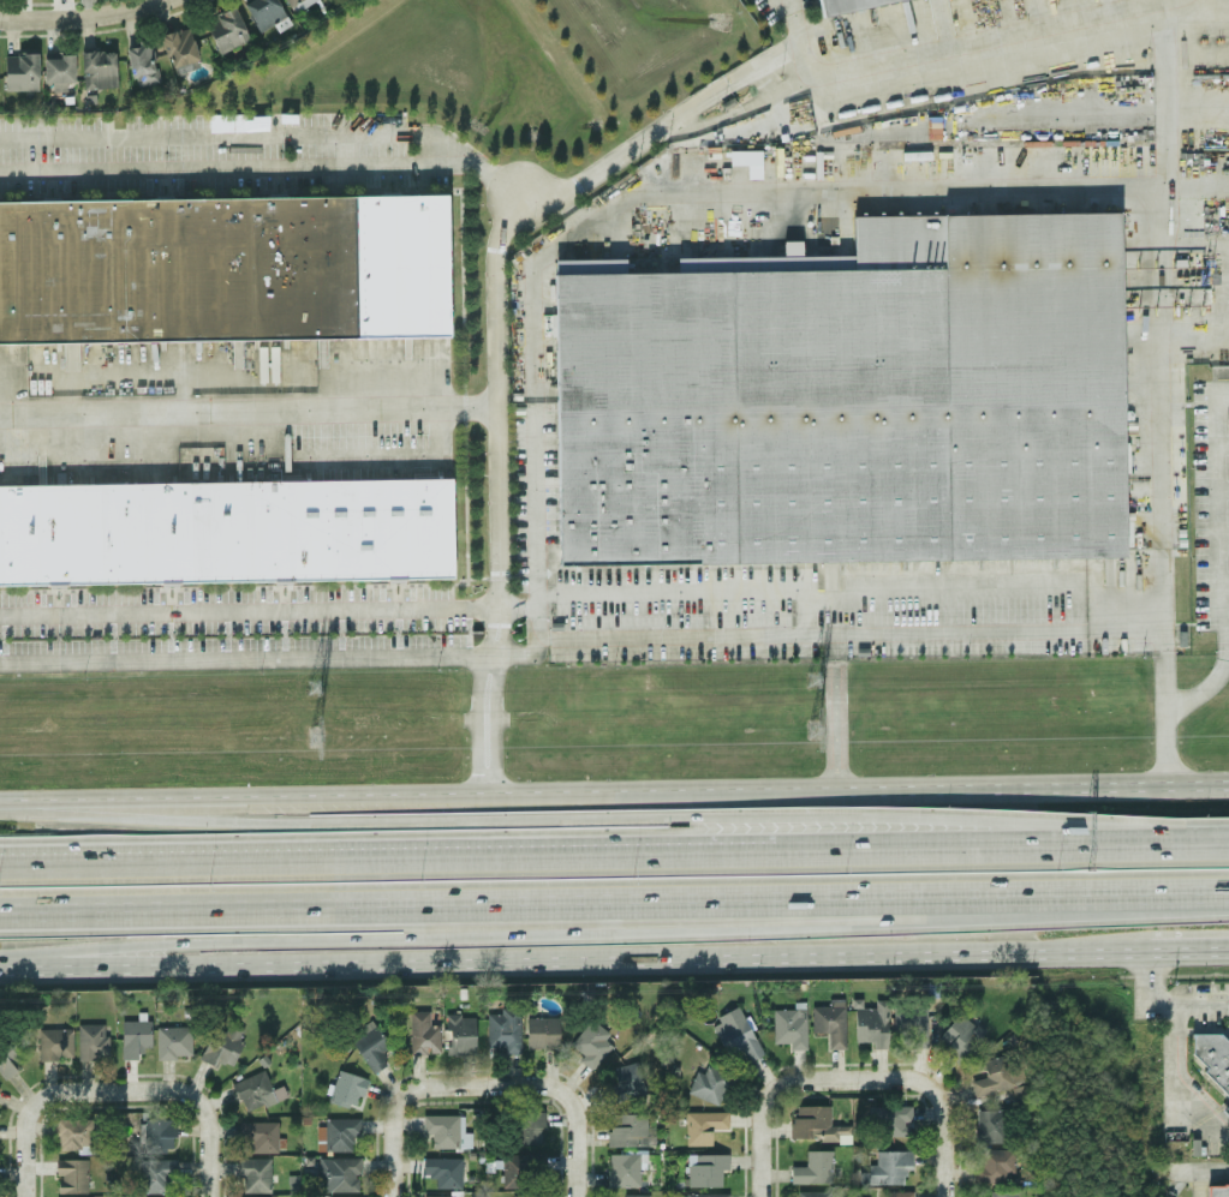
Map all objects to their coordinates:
building: (298, 2)
building: (830, 2)
building: (263, 12)
road: (80, 14)
road: (1199, 20)
road: (789, 26)
building: (226, 30)
building: (178, 47)
building: (141, 62)
road: (811, 67)
building: (58, 68)
building: (99, 68)
building: (19, 72)
road: (501, 235)
building: (225, 265)
road: (1171, 298)
building: (848, 400)
road: (249, 418)
road: (1222, 509)
building: (226, 529)
road: (1091, 598)
road: (412, 612)
road: (1227, 623)
road: (1213, 674)
power tower: (811, 680)
power tower: (314, 687)
road: (827, 696)
power tower: (812, 734)
power tower: (311, 741)
road: (614, 794)
road: (611, 819)
road: (1224, 830)
road: (968, 837)
road: (359, 857)
road: (614, 910)
road: (515, 934)
road: (1197, 950)
road: (581, 958)
road: (1165, 1003)
building: (829, 1022)
building: (909, 1022)
building: (871, 1024)
building: (789, 1027)
building: (502, 1031)
building: (541, 1033)
building: (422, 1034)
building: (460, 1035)
building: (735, 1035)
building: (960, 1035)
building: (133, 1039)
building: (91, 1041)
building: (172, 1042)
building: (54, 1043)
building: (221, 1043)
building: (589, 1045)
building: (369, 1046)
building: (1215, 1055)
building: (1000, 1078)
road: (912, 1079)
road: (545, 1082)
building: (625, 1082)
building: (710, 1085)
building: (346, 1089)
road: (1170, 1089)
building: (256, 1091)
road: (207, 1103)
road: (40, 1111)
building: (1225, 1111)
building: (895, 1120)
building: (816, 1124)
building: (703, 1126)
building: (991, 1126)
building: (527, 1127)
building: (626, 1130)
building: (159, 1132)
building: (446, 1132)
building: (73, 1137)
building: (258, 1137)
road: (759, 1139)
road: (393, 1142)
building: (994, 1166)
building: (889, 1167)
building: (813, 1168)
building: (705, 1169)
building: (515, 1171)
building: (624, 1171)
building: (443, 1172)
building: (334, 1173)
road: (1204, 1174)
building: (71, 1175)
building: (159, 1175)
building: (255, 1175)
building: (1217, 1191)
building: (812, 1193)
building: (895, 1193)
building: (634, 1195)
building: (705, 1195)
building: (1003, 1195)

